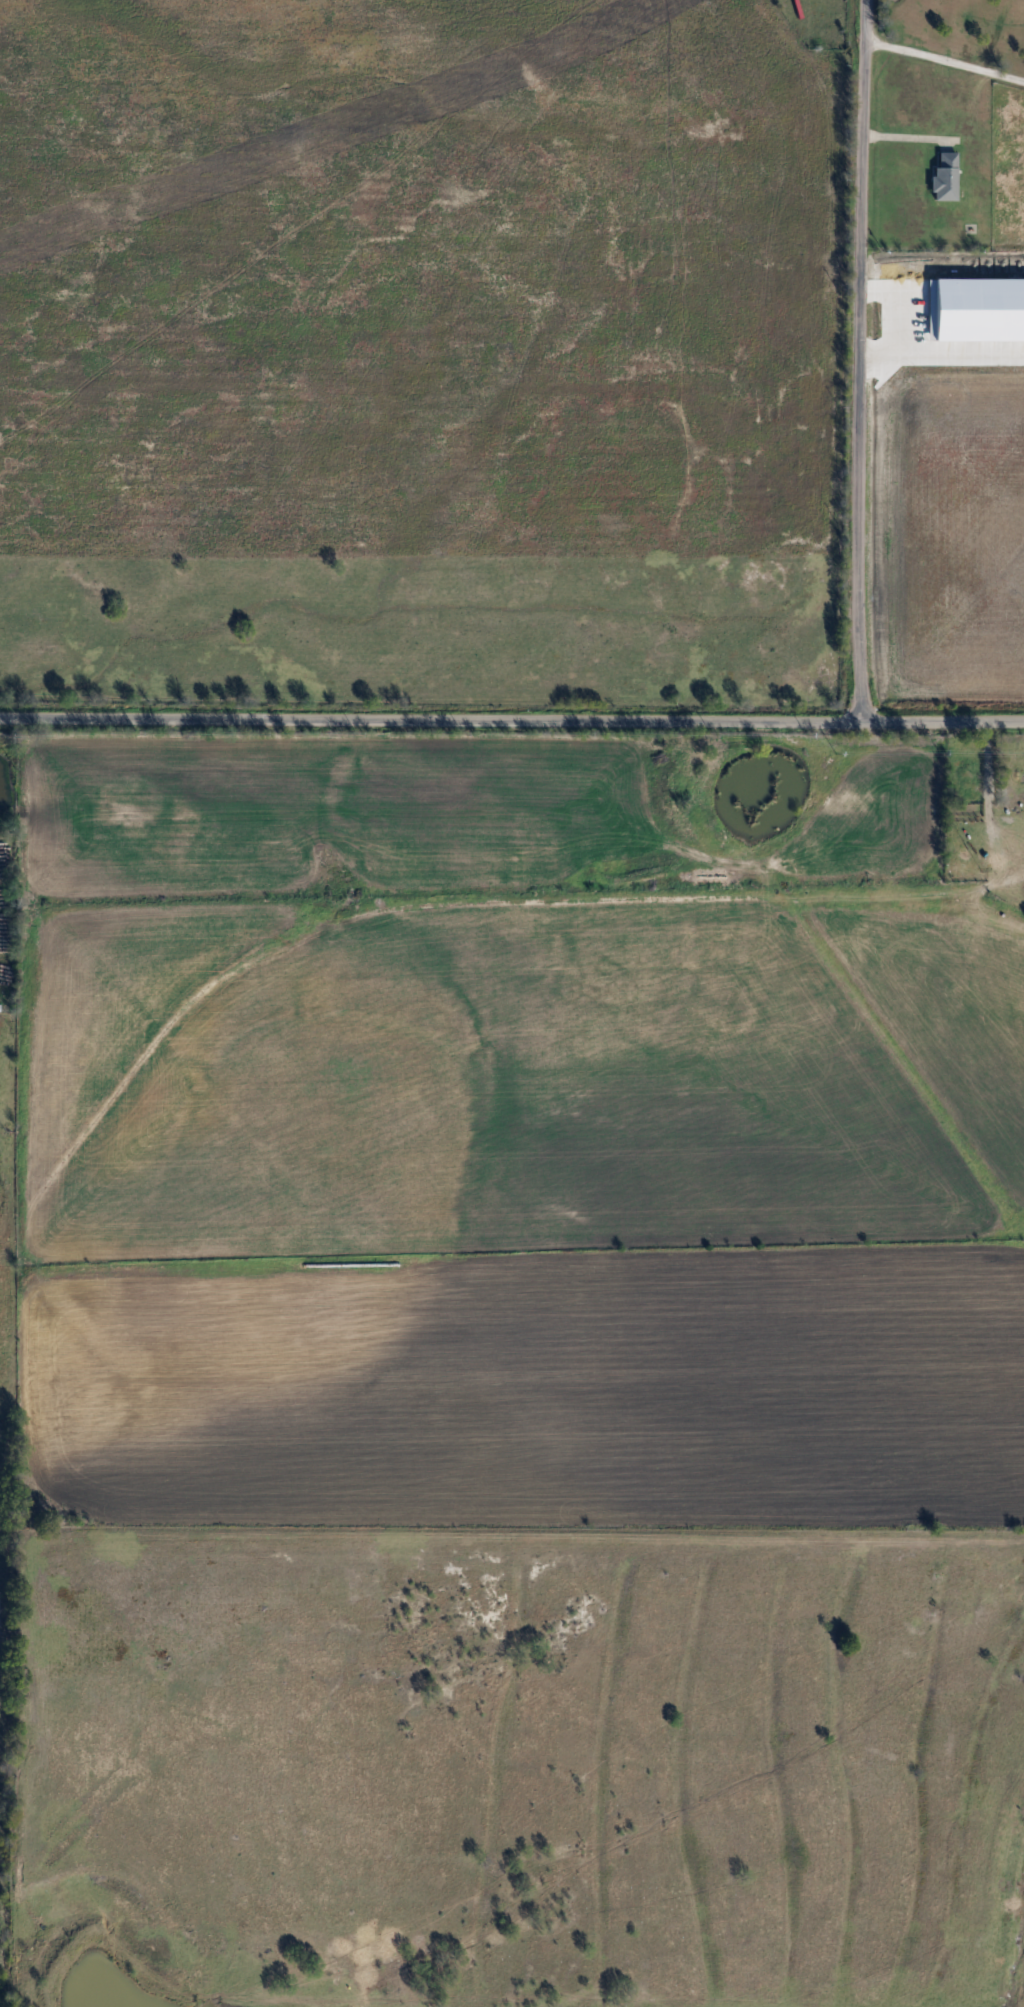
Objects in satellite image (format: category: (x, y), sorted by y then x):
road: (944, 62)
building: (942, 179)
road: (860, 361)
road: (512, 721)
building: (967, 776)

